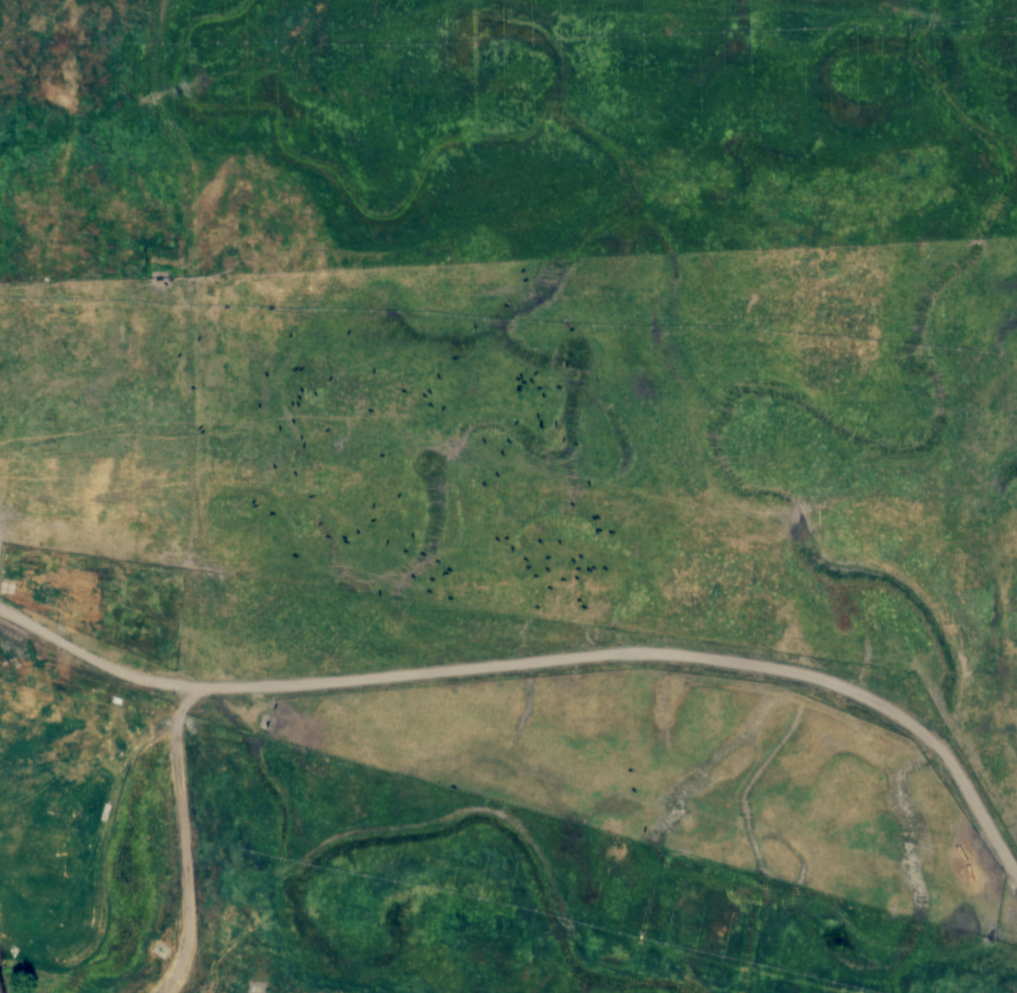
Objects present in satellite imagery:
road: (543, 678)

